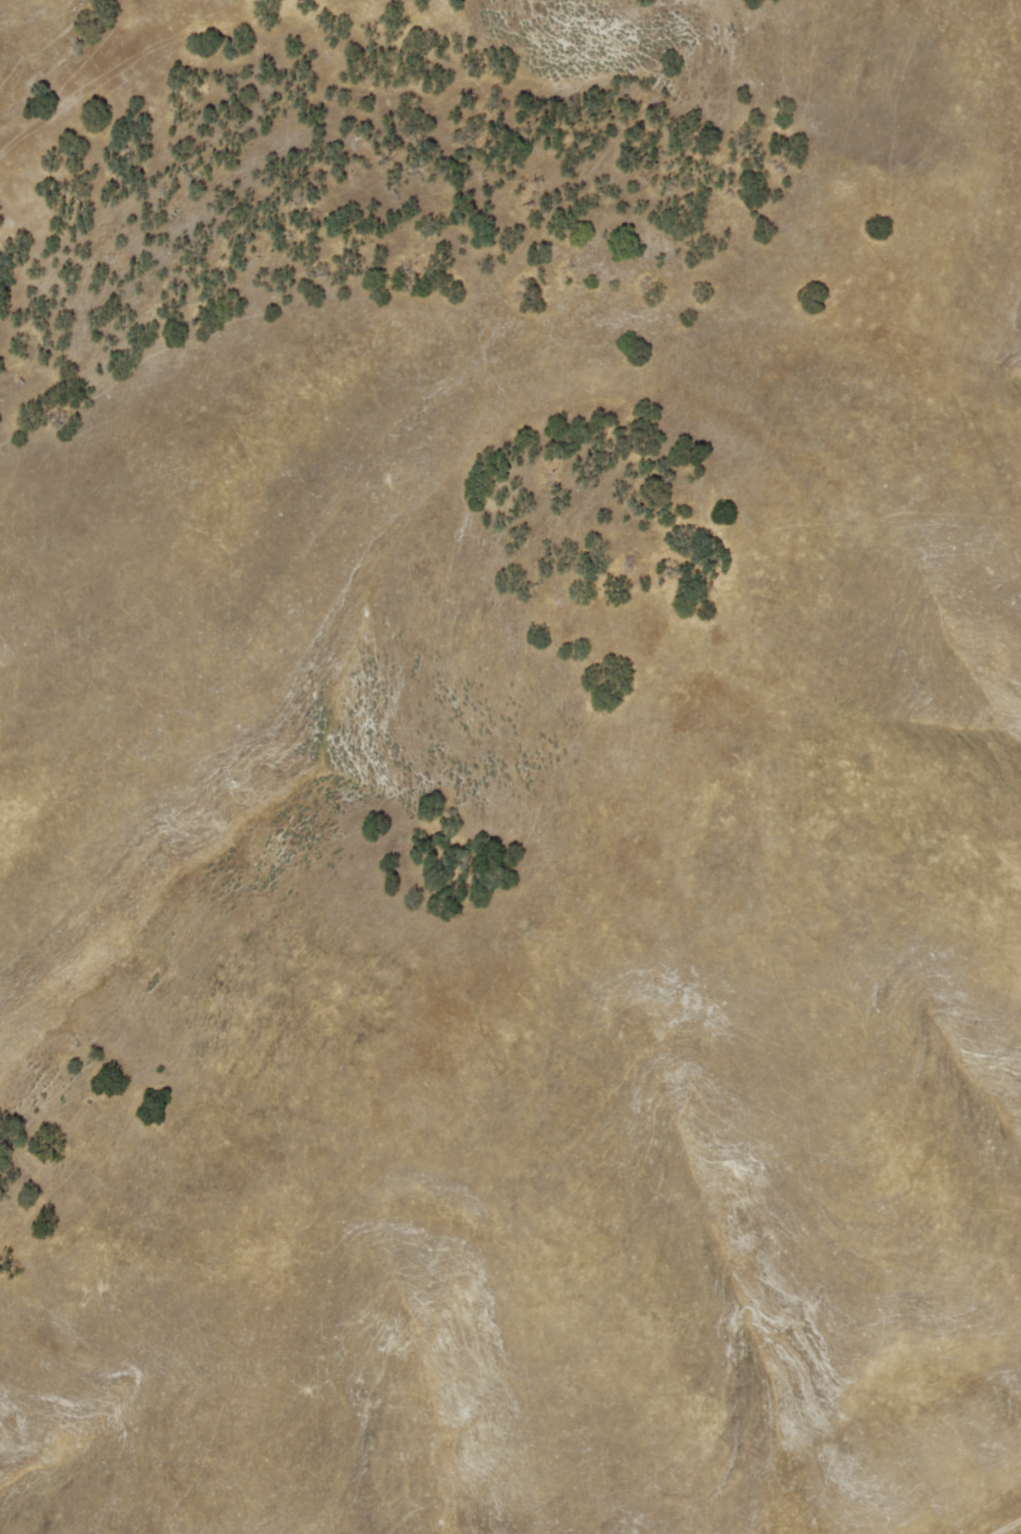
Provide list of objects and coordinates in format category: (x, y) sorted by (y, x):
road: (1006, 1527)

